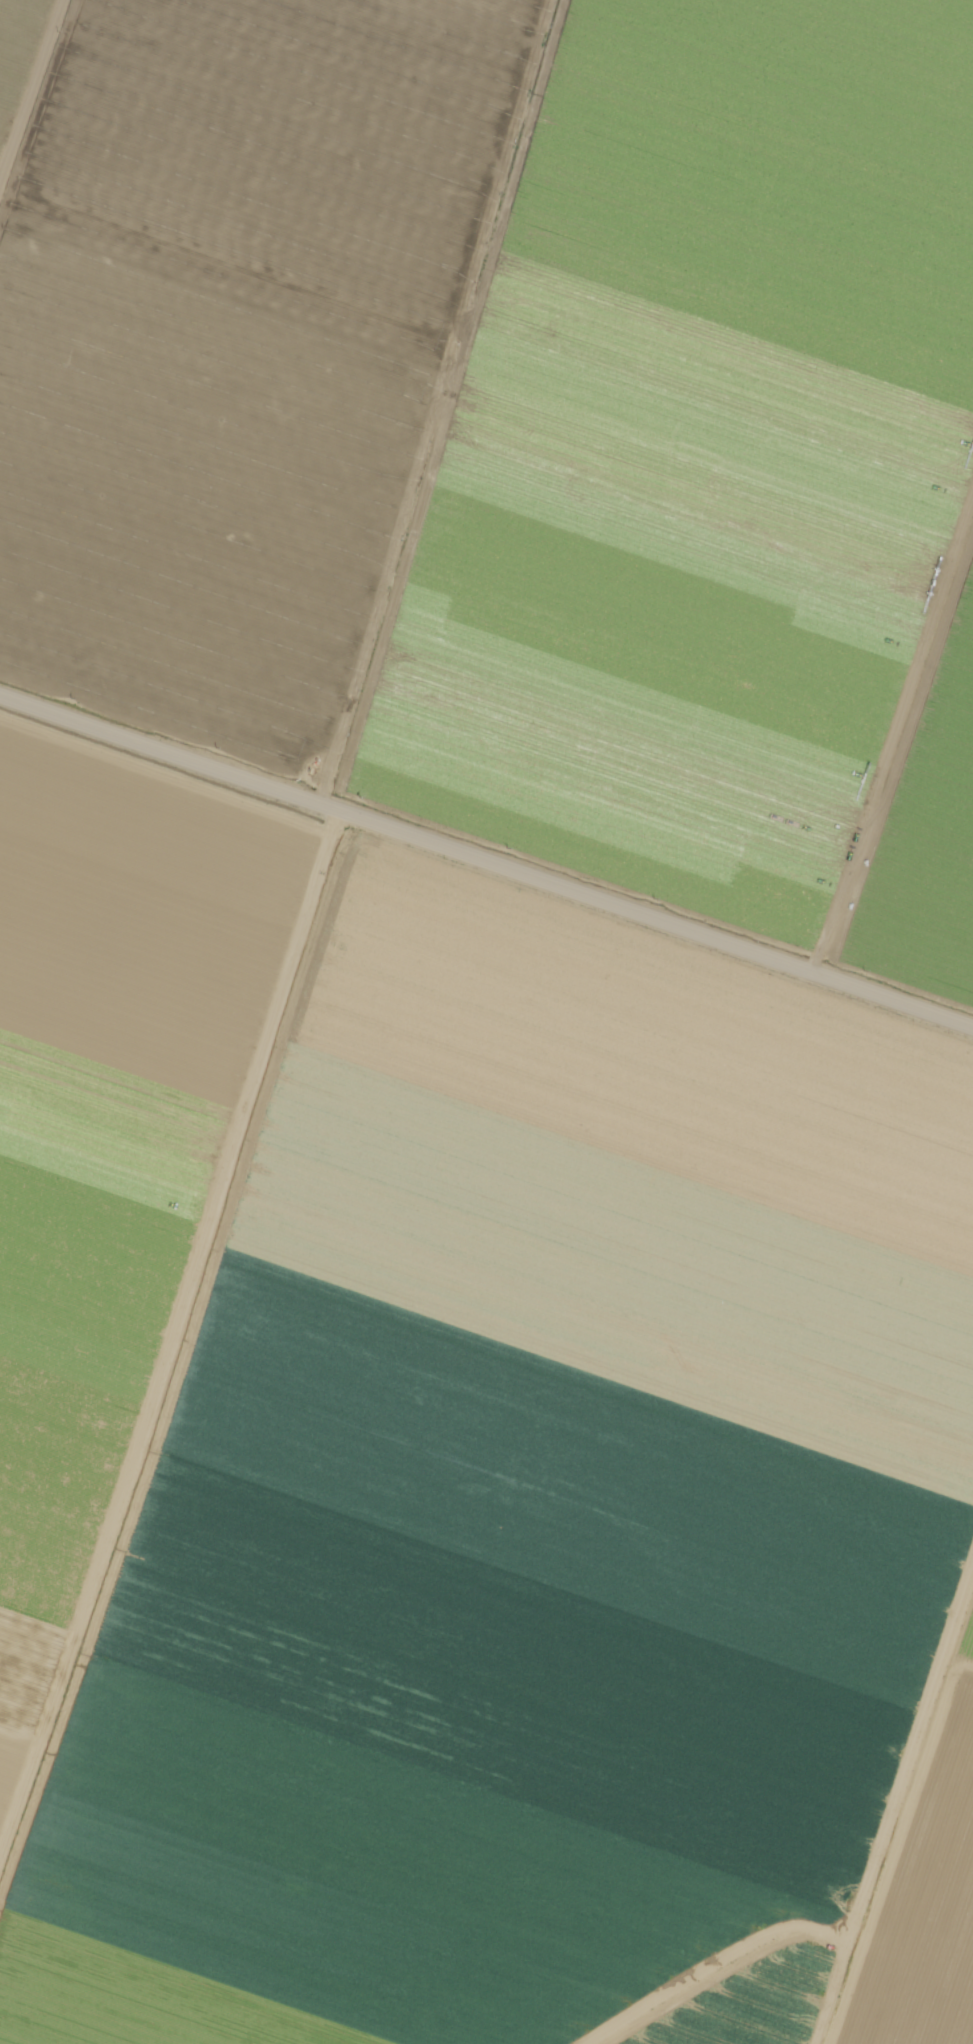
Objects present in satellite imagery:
crop: (18, 53)
crop: (230, 346)
crop: (693, 458)
crop: (925, 840)
road: (485, 872)
crop: (108, 1129)
road: (172, 1331)
crop: (517, 1498)
crop: (965, 1636)
crop: (922, 1902)
crop: (753, 2002)

